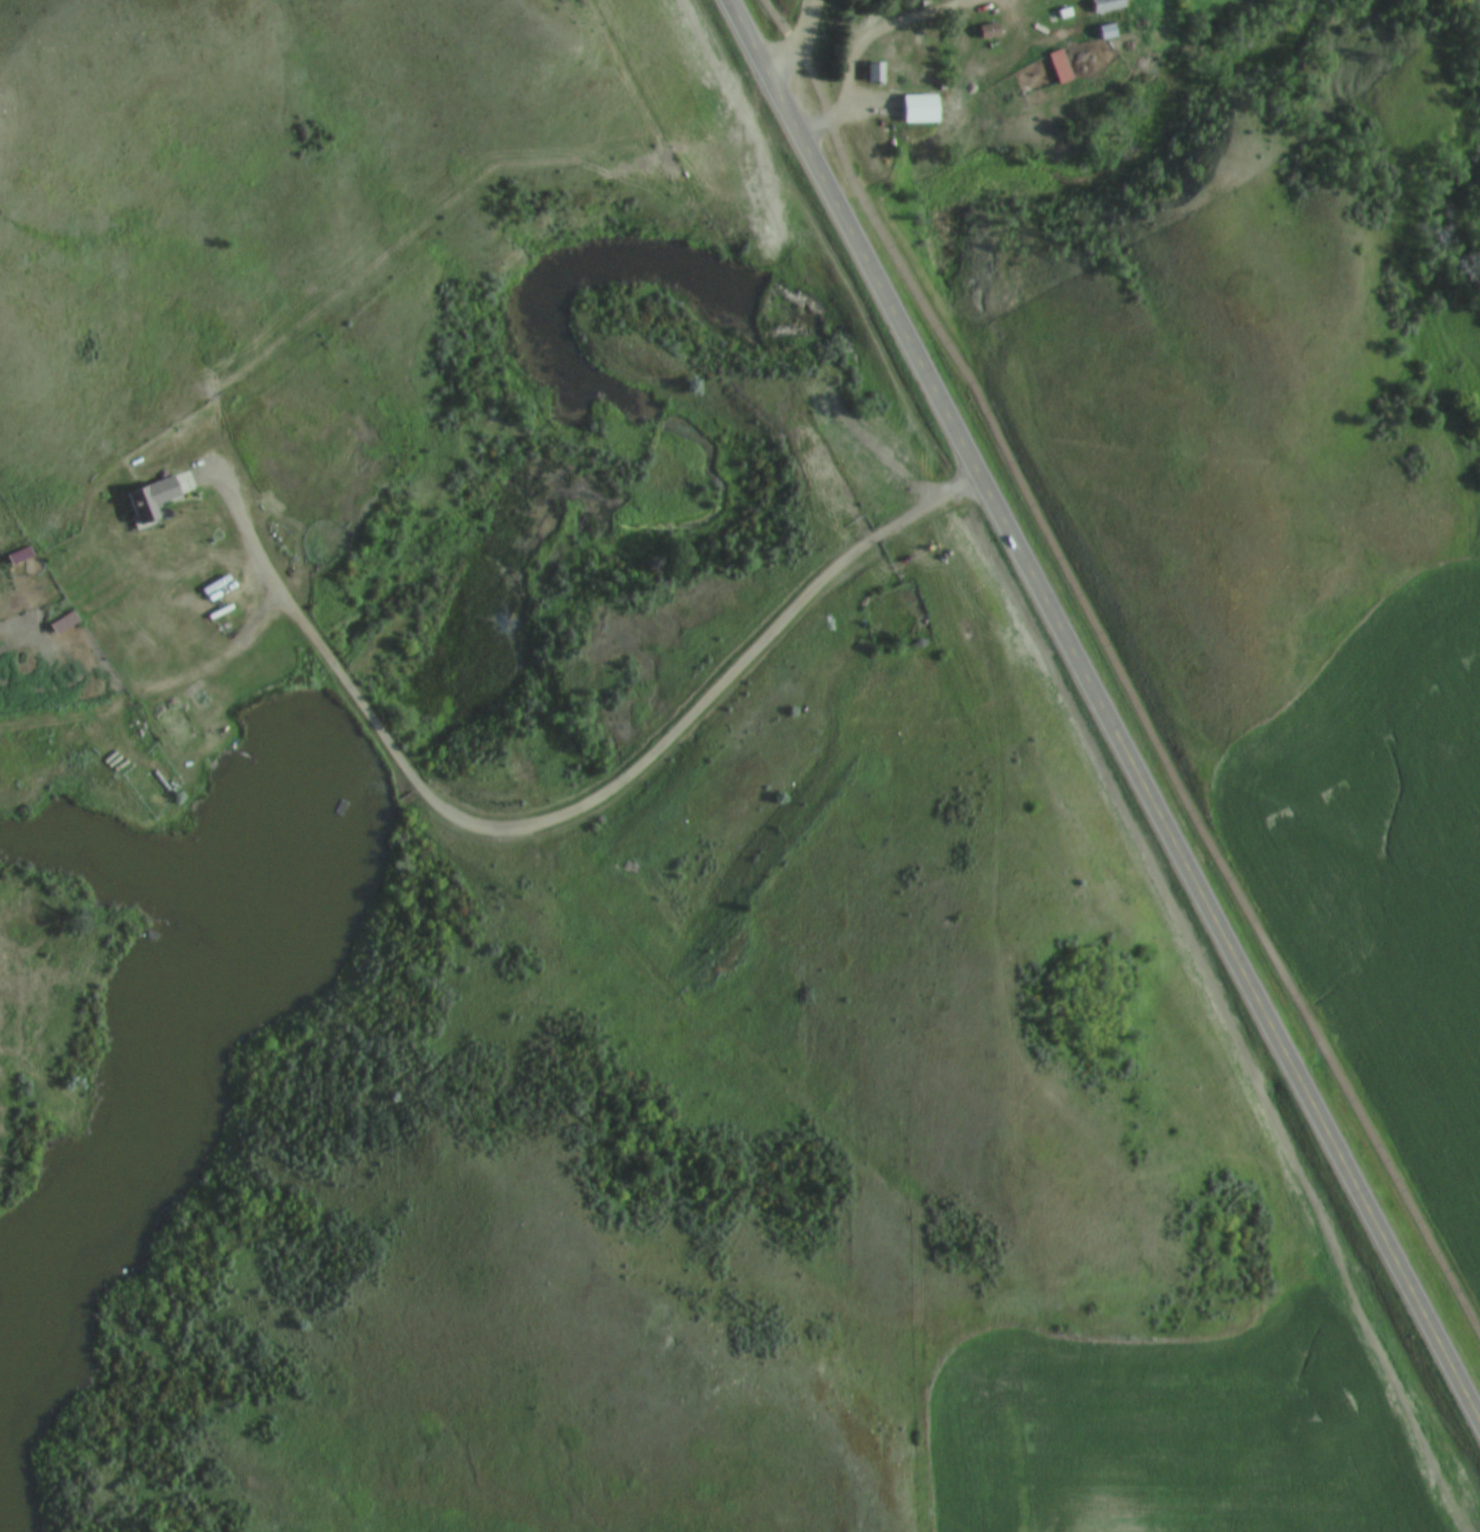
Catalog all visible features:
building: (1103, 5)
building: (985, 31)
building: (1103, 32)
road: (799, 43)
road: (857, 48)
building: (903, 57)
building: (1056, 67)
building: (871, 72)
building: (914, 109)
building: (146, 499)
building: (15, 556)
building: (58, 623)
road: (1118, 666)
road: (163, 694)
road: (1103, 715)
road: (546, 791)
road: (803, 1106)

